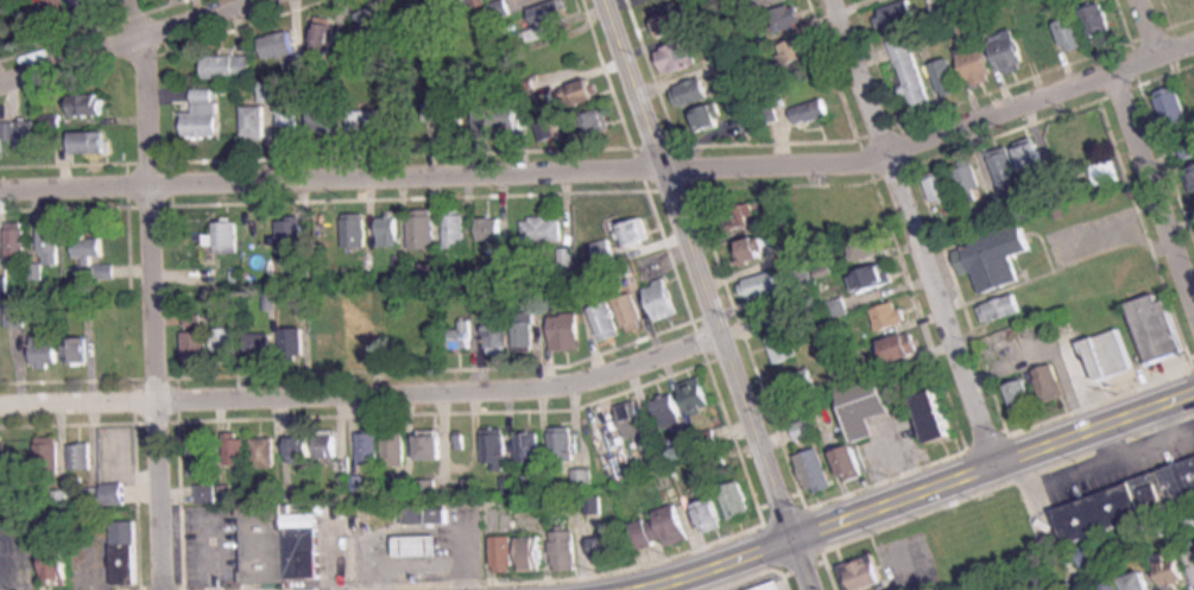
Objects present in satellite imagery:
building: (1179, 0)
building: (770, 2)
building: (457, 5)
building: (87, 6)
building: (941, 6)
building: (58, 12)
building: (896, 14)
building: (786, 18)
building: (545, 19)
building: (1095, 20)
building: (373, 26)
road: (1158, 31)
building: (326, 34)
building: (1070, 34)
road: (138, 43)
building: (1040, 44)
building: (278, 45)
building: (797, 50)
building: (1006, 52)
building: (678, 56)
building: (227, 66)
building: (975, 66)
building: (909, 71)
building: (945, 78)
building: (1193, 90)
building: (265, 91)
building: (693, 91)
building: (581, 94)
building: (88, 104)
building: (1171, 108)
building: (810, 112)
building: (203, 114)
building: (288, 115)
building: (708, 116)
building: (447, 118)
building: (321, 120)
building: (373, 120)
building: (497, 120)
building: (253, 123)
building: (598, 123)
building: (545, 131)
building: (11, 132)
building: (27, 134)
building: (1089, 137)
building: (89, 142)
building: (1059, 150)
building: (1031, 159)
road: (606, 170)
building: (1005, 170)
road: (1161, 175)
building: (1192, 175)
building: (1101, 176)
building: (971, 183)
building: (940, 189)
building: (1010, 211)
building: (743, 214)
building: (809, 215)
building: (778, 218)
building: (489, 229)
building: (543, 229)
building: (355, 230)
building: (388, 230)
building: (423, 230)
building: (637, 230)
building: (455, 231)
road: (925, 233)
building: (291, 234)
building: (257, 235)
building: (227, 236)
building: (15, 240)
building: (50, 243)
building: (865, 243)
building: (752, 249)
building: (605, 252)
building: (996, 256)
building: (567, 258)
building: (93, 260)
building: (301, 266)
building: (431, 272)
building: (872, 278)
building: (806, 279)
building: (762, 285)
road: (716, 294)
building: (663, 299)
building: (838, 307)
building: (999, 307)
building: (631, 311)
building: (17, 313)
road: (162, 315)
building: (890, 315)
building: (775, 317)
building: (606, 319)
building: (1157, 326)
building: (524, 330)
building: (566, 330)
building: (498, 331)
building: (462, 335)
building: (361, 338)
building: (226, 343)
building: (327, 343)
building: (260, 344)
building: (783, 344)
building: (295, 345)
building: (901, 345)
building: (197, 348)
building: (77, 349)
building: (45, 350)
building: (1111, 353)
building: (1050, 381)
building: (800, 382)
building: (1023, 395)
building: (699, 396)
road: (371, 402)
building: (668, 410)
building: (868, 413)
building: (934, 414)
building: (633, 418)
building: (804, 429)
building: (699, 438)
building: (328, 443)
building: (431, 443)
building: (562, 443)
building: (396, 445)
building: (529, 445)
building: (369, 446)
building: (236, 448)
building: (301, 448)
building: (495, 448)
building: (265, 452)
building: (46, 455)
building: (81, 455)
building: (203, 455)
building: (658, 456)
building: (116, 462)
building: (851, 462)
building: (816, 470)
building: (583, 477)
building: (537, 483)
building: (427, 489)
building: (207, 493)
road: (923, 497)
building: (737, 499)
building: (1125, 501)
building: (428, 512)
building: (709, 514)
building: (1190, 516)
building: (659, 528)
building: (418, 543)
building: (278, 545)
building: (605, 548)
building: (564, 550)
building: (125, 552)
building: (504, 552)
building: (532, 552)
building: (1089, 553)
building: (1190, 556)
building: (57, 562)
building: (1171, 570)
building: (863, 572)
building: (1139, 581)
building: (1112, 584)
building: (770, 586)
building: (1075, 589)

